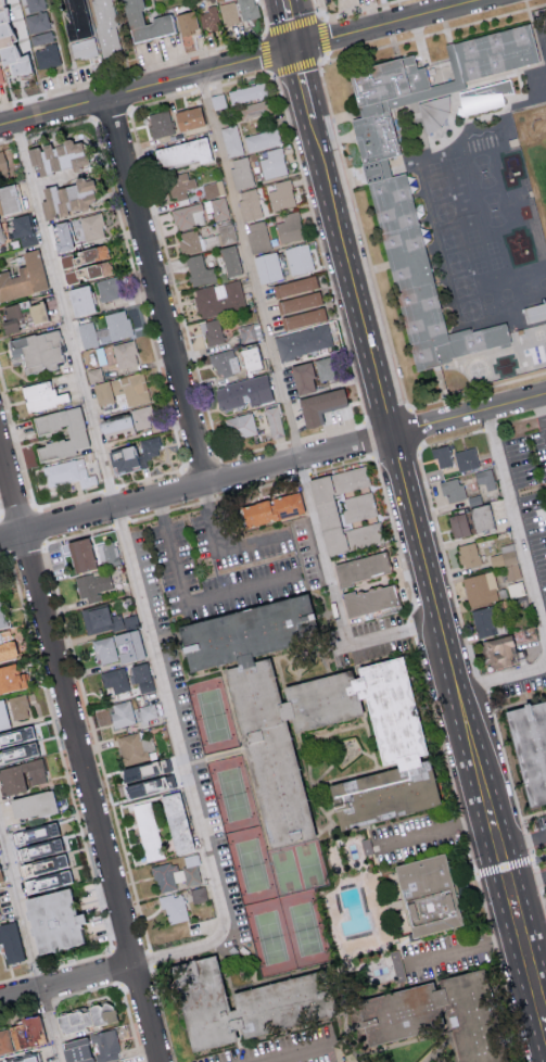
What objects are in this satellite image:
building: (35, 4)
building: (247, 9)
building: (229, 12)
road: (264, 16)
building: (208, 17)
building: (75, 20)
building: (36, 21)
building: (186, 21)
building: (143, 22)
road: (289, 24)
building: (107, 27)
building: (40, 37)
building: (84, 48)
traffic signals: (295, 49)
building: (10, 50)
road: (267, 54)
building: (47, 55)
road: (242, 62)
road: (132, 69)
building: (1, 78)
road: (239, 79)
road: (304, 84)
road: (203, 87)
building: (246, 92)
road: (163, 99)
building: (485, 102)
road: (112, 113)
building: (434, 115)
building: (188, 117)
building: (160, 123)
road: (60, 126)
road: (20, 136)
road: (7, 139)
building: (262, 139)
building: (231, 140)
building: (181, 152)
building: (68, 153)
park: (534, 154)
building: (41, 159)
building: (272, 163)
building: (2, 164)
building: (241, 172)
building: (178, 184)
building: (213, 189)
building: (281, 194)
building: (66, 197)
building: (8, 198)
building: (250, 203)
building: (217, 206)
building: (392, 213)
building: (188, 215)
road: (237, 220)
building: (90, 226)
building: (290, 227)
building: (23, 228)
building: (60, 235)
building: (257, 236)
building: (1, 237)
building: (189, 240)
road: (320, 246)
building: (299, 258)
building: (229, 260)
building: (84, 263)
building: (267, 266)
building: (200, 270)
building: (24, 276)
road: (174, 285)
building: (294, 286)
building: (107, 288)
road: (157, 289)
road: (139, 293)
building: (218, 298)
building: (500, 298)
building: (80, 299)
building: (300, 301)
building: (534, 311)
building: (304, 317)
building: (117, 325)
building: (212, 331)
building: (247, 332)
building: (88, 334)
building: (303, 341)
building: (34, 350)
building: (125, 353)
building: (536, 353)
building: (249, 355)
building: (224, 362)
building: (323, 368)
building: (94, 375)
building: (302, 377)
road: (279, 384)
building: (131, 388)
building: (101, 392)
building: (242, 392)
building: (40, 395)
building: (319, 405)
road: (542, 415)
building: (143, 416)
building: (274, 421)
building: (114, 425)
building: (241, 425)
road: (291, 429)
road: (332, 430)
building: (75, 434)
road: (17, 440)
road: (294, 440)
road: (369, 440)
road: (253, 451)
building: (132, 454)
road: (398, 455)
building: (441, 455)
building: (466, 458)
road: (201, 465)
road: (272, 465)
road: (342, 466)
building: (67, 472)
road: (304, 476)
road: (151, 478)
building: (350, 478)
building: (484, 478)
road: (109, 488)
building: (452, 489)
road: (68, 498)
road: (212, 498)
building: (357, 506)
building: (269, 508)
road: (17, 511)
road: (0, 515)
building: (325, 515)
road: (0, 517)
building: (480, 517)
road: (516, 522)
road: (119, 523)
building: (458, 524)
road: (39, 526)
road: (80, 534)
building: (364, 534)
road: (4, 535)
road: (396, 540)
road: (47, 543)
road: (26, 548)
road: (216, 551)
building: (79, 554)
building: (106, 554)
building: (468, 554)
road: (1, 555)
road: (10, 555)
building: (507, 560)
building: (359, 567)
road: (132, 572)
building: (92, 585)
building: (480, 589)
building: (515, 589)
road: (335, 596)
building: (367, 599)
road: (187, 604)
building: (2, 615)
building: (104, 620)
building: (483, 621)
road: (411, 629)
building: (117, 647)
building: (496, 650)
building: (141, 675)
building: (10, 677)
road: (504, 678)
building: (113, 680)
building: (294, 704)
building: (18, 706)
building: (148, 711)
building: (122, 712)
building: (3, 716)
park: (213, 716)
building: (16, 745)
road: (96, 746)
building: (134, 747)
building: (530, 748)
road: (79, 751)
road: (445, 756)
building: (21, 776)
road: (71, 792)
park: (232, 794)
building: (391, 796)
building: (29, 805)
building: (175, 822)
road: (435, 830)
building: (148, 831)
building: (37, 832)
road: (523, 845)
building: (42, 864)
park: (310, 864)
park: (251, 865)
road: (504, 868)
park: (284, 871)
building: (0, 880)
road: (528, 882)
building: (198, 894)
building: (433, 895)
building: (174, 908)
road: (516, 908)
building: (50, 921)
park: (305, 928)
park: (270, 938)
building: (10, 943)
road: (30, 945)
road: (465, 950)
road: (150, 959)
building: (395, 960)
road: (116, 968)
road: (500, 969)
road: (37, 973)
road: (15, 978)
road: (67, 983)
road: (122, 988)
building: (220, 1003)
road: (47, 1006)
road: (21, 1013)
road: (162, 1014)
building: (435, 1014)
building: (84, 1017)
building: (22, 1034)
building: (90, 1048)
road: (294, 1055)
building: (20, 1060)

